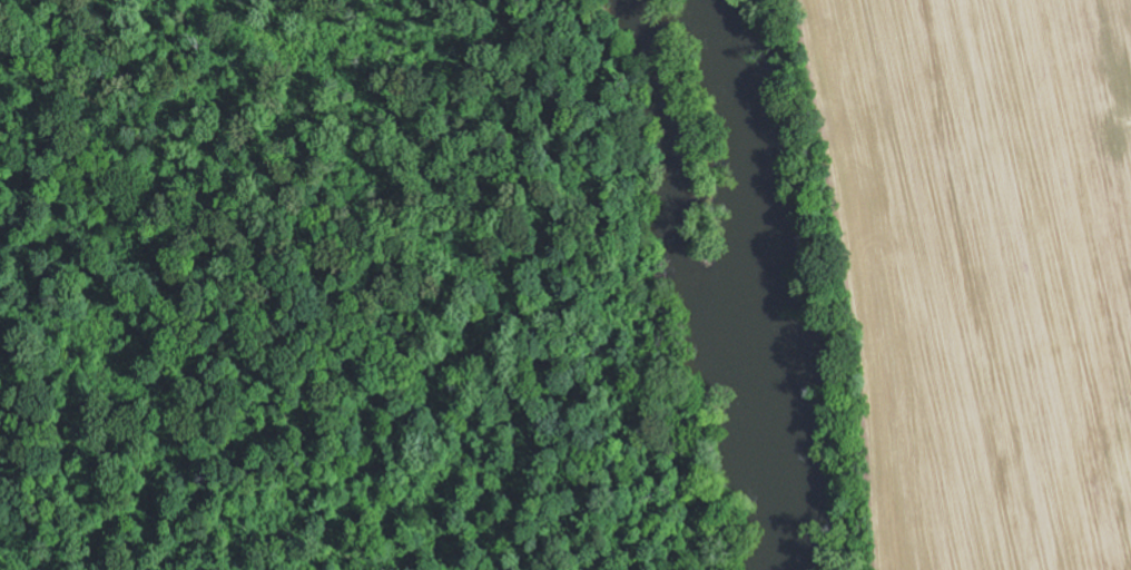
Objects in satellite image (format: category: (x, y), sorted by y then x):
river: (721, 284)

